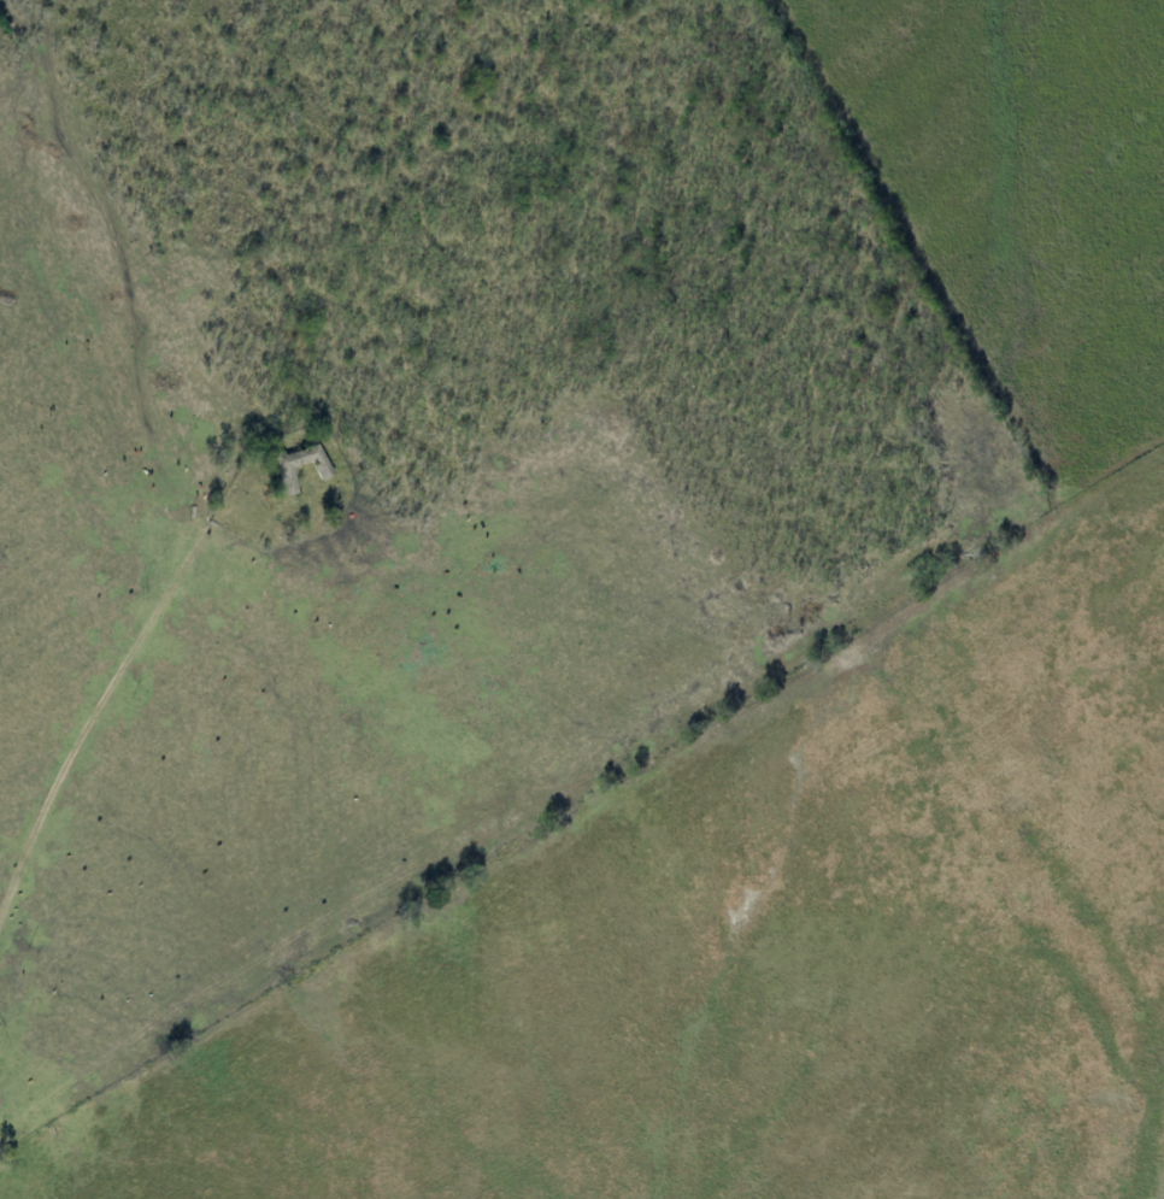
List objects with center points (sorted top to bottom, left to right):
building: (287, 471)

